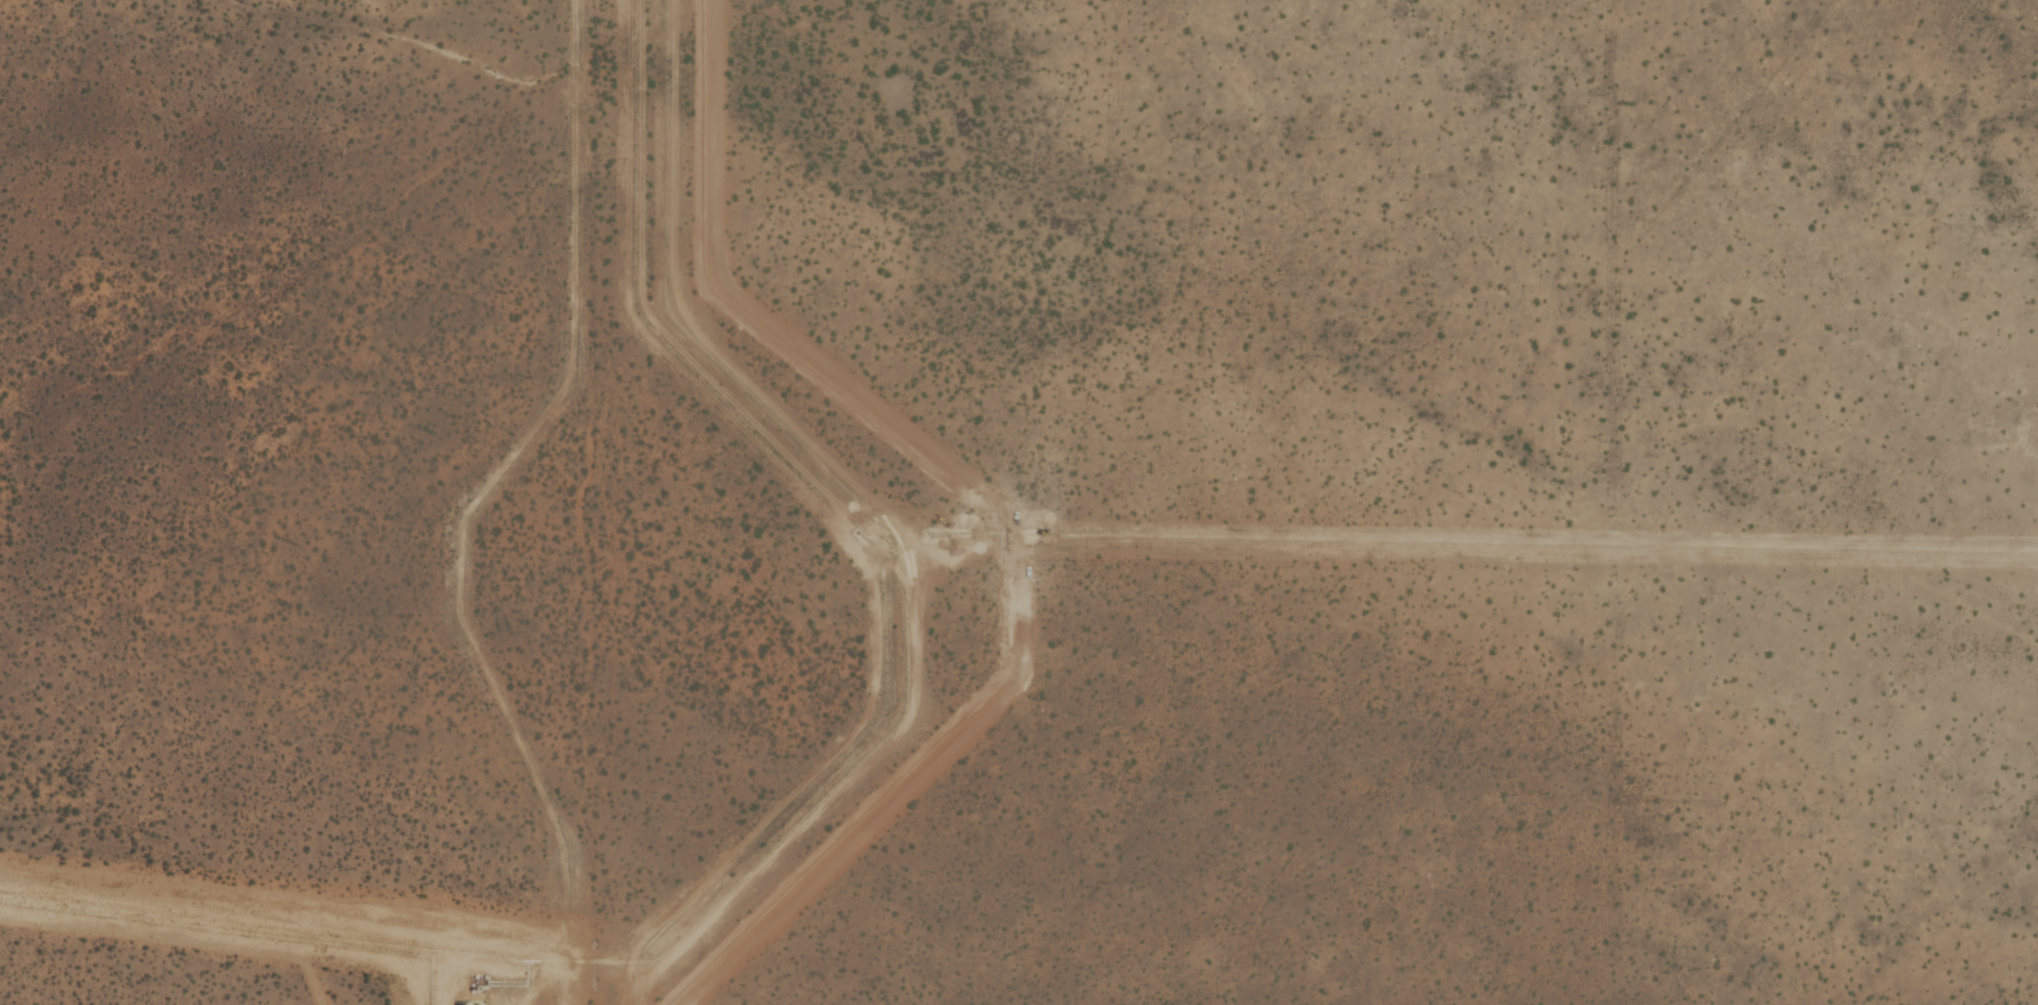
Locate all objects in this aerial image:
road: (282, 918)

